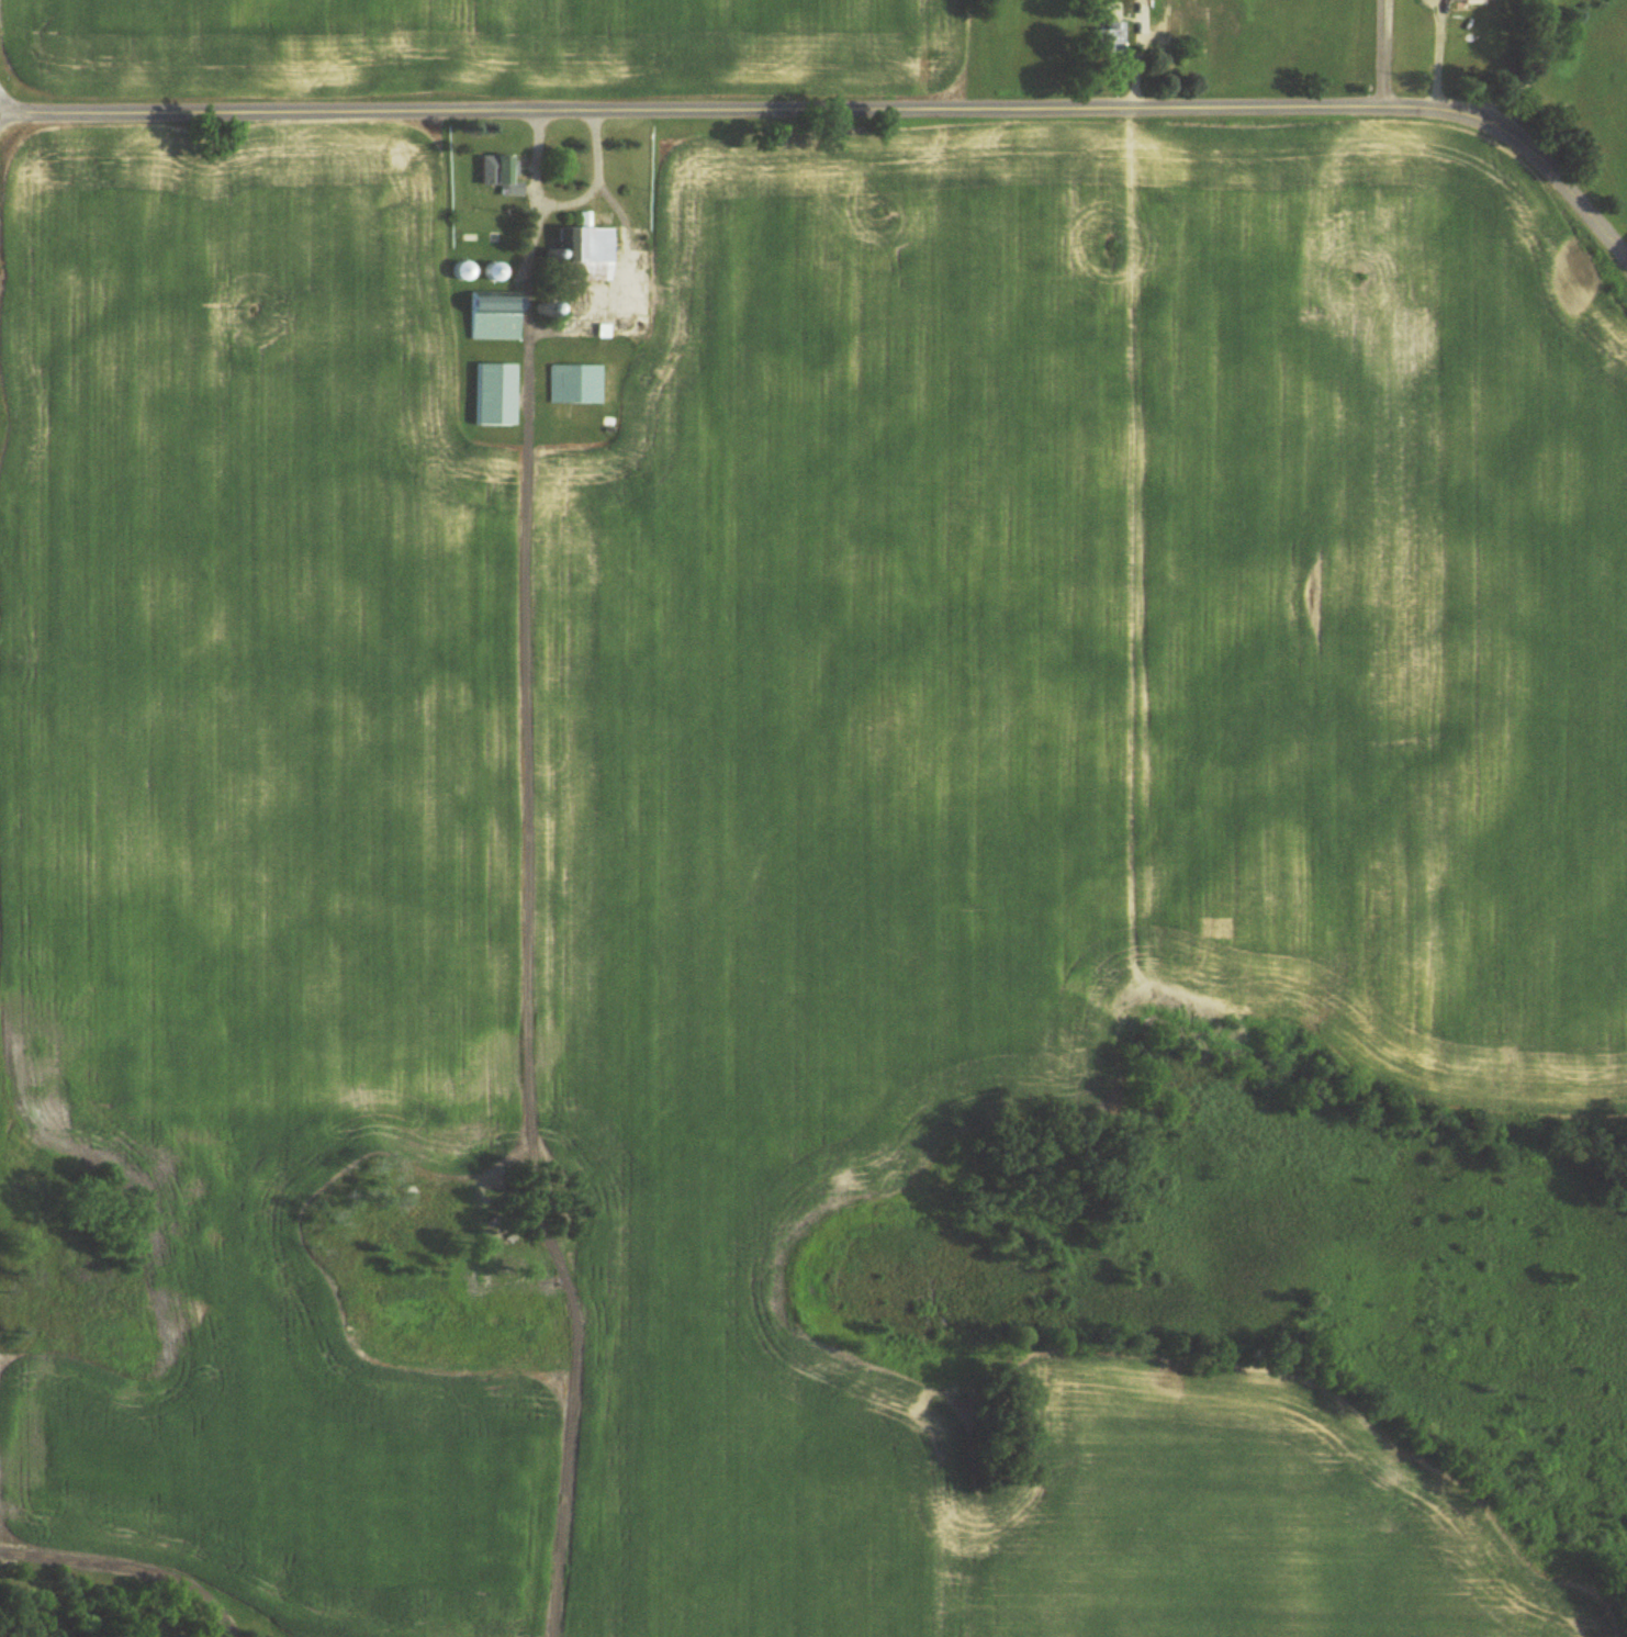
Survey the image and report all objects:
building: (1472, 0)
building: (1200, 25)
building: (1109, 41)
road: (1384, 53)
road: (1437, 56)
road: (1523, 86)
road: (842, 111)
building: (501, 176)
road: (569, 201)
building: (470, 239)
building: (586, 256)
building: (463, 272)
building: (493, 273)
building: (495, 316)
road: (570, 323)
building: (575, 385)
building: (495, 395)

